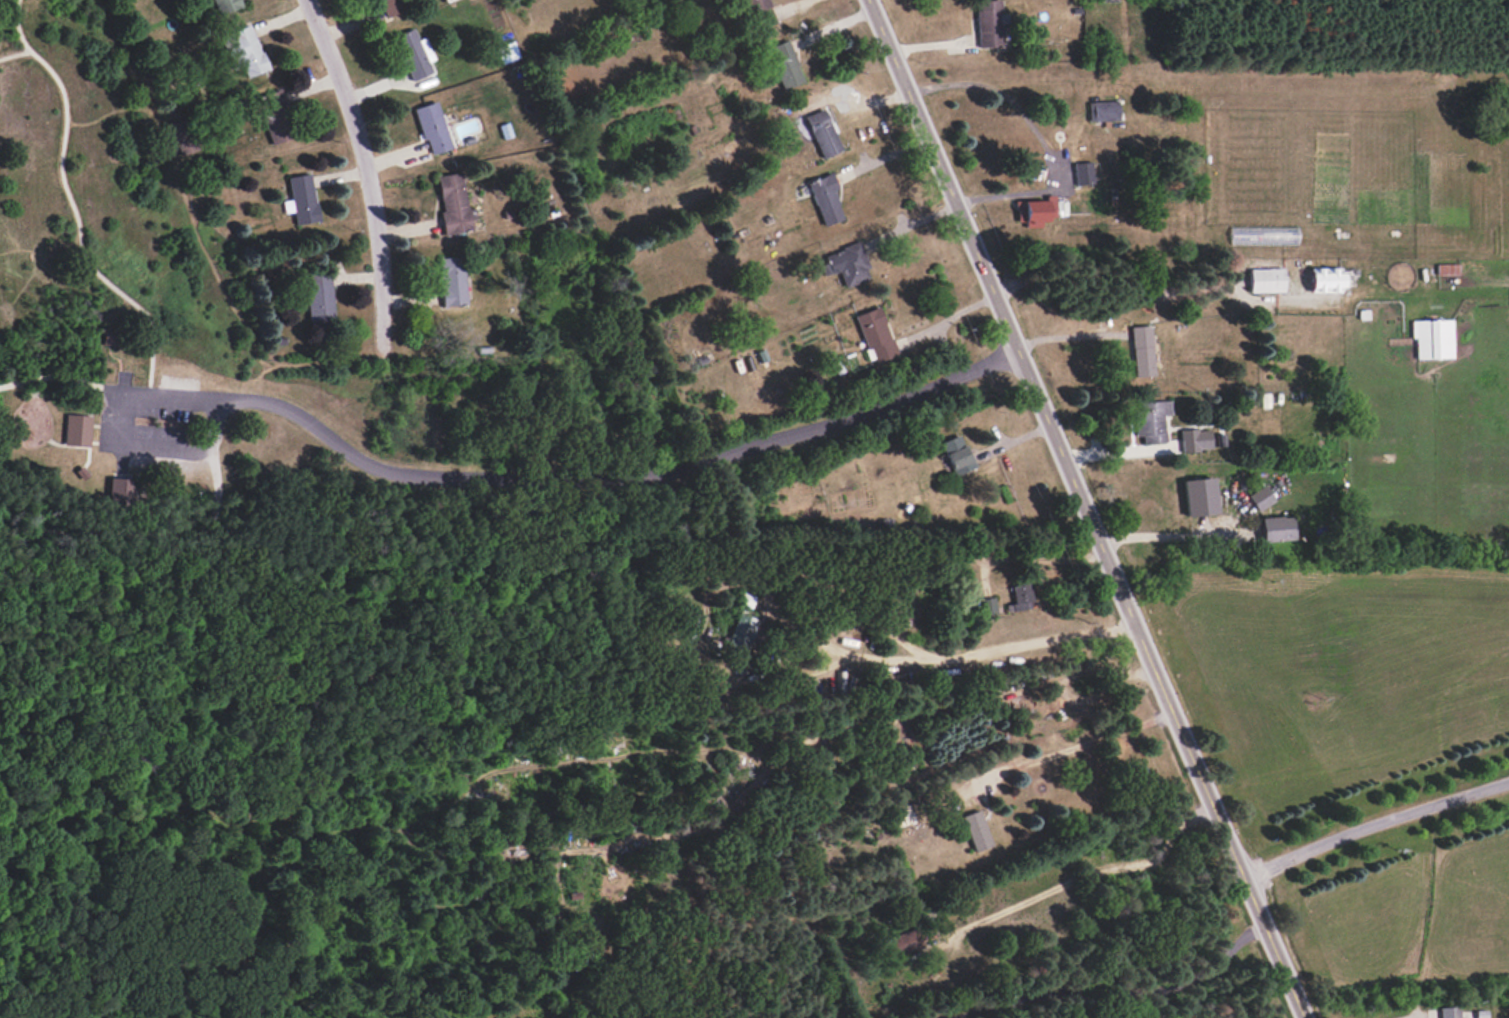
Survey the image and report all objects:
building: (225, 5)
building: (389, 7)
building: (760, 13)
building: (988, 23)
building: (245, 50)
building: (505, 52)
building: (413, 53)
building: (784, 64)
road: (1001, 94)
road: (856, 99)
building: (1102, 110)
building: (273, 117)
building: (431, 127)
building: (821, 133)
building: (181, 138)
road: (366, 170)
building: (1082, 173)
road: (1008, 194)
building: (301, 198)
building: (824, 198)
building: (452, 203)
building: (1034, 210)
road: (908, 224)
building: (845, 264)
road: (1111, 277)
building: (1325, 279)
building: (1265, 280)
building: (451, 281)
building: (318, 297)
road: (946, 318)
building: (874, 335)
building: (108, 336)
road: (1068, 336)
building: (1432, 338)
building: (1141, 350)
building: (1150, 420)
building: (76, 430)
building: (1194, 439)
road: (1117, 452)
building: (956, 454)
road: (471, 482)
building: (119, 491)
building: (1199, 496)
building: (1260, 497)
road: (1085, 509)
building: (1275, 528)
road: (1166, 535)
road: (1030, 557)
building: (1019, 597)
park: (280, 600)
building: (987, 606)
building: (740, 633)
road: (834, 647)
road: (1074, 745)
building: (900, 815)
building: (975, 830)
road: (1376, 830)
road: (1086, 874)
building: (902, 942)
road: (1115, 991)
building: (1448, 1012)

